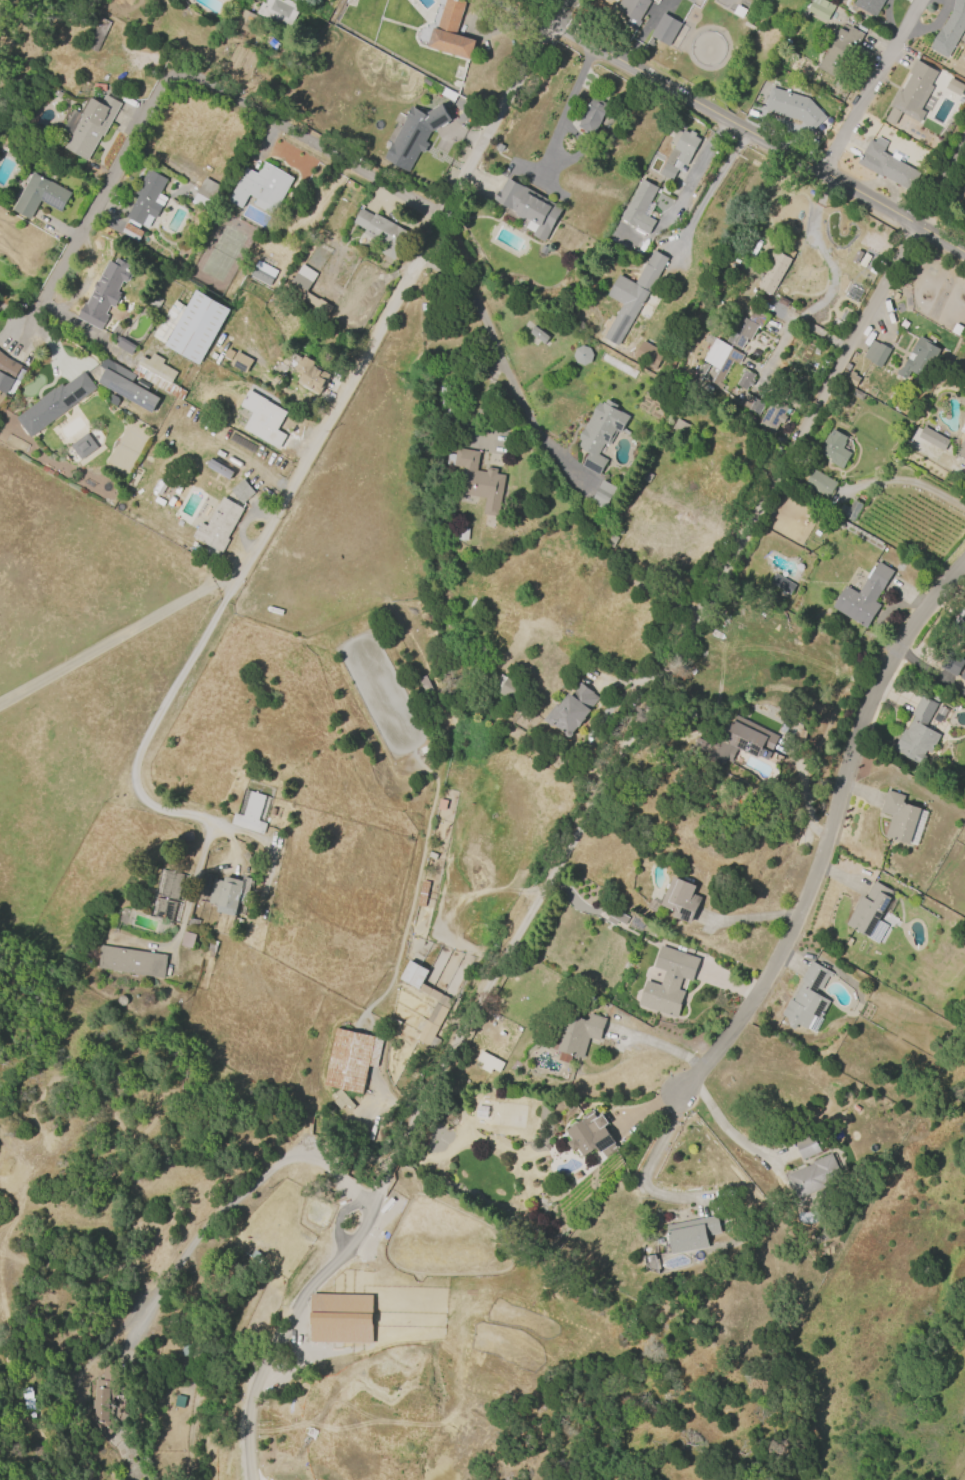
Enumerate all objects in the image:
building: (868, 6)
building: (632, 9)
building: (820, 9)
building: (278, 12)
road: (517, 13)
road: (554, 13)
building: (242, 19)
building: (665, 29)
building: (950, 29)
building: (450, 32)
building: (96, 34)
building: (839, 52)
road: (182, 79)
building: (98, 87)
building: (954, 87)
road: (871, 88)
building: (763, 91)
building: (912, 94)
building: (793, 108)
building: (592, 116)
road: (495, 120)
building: (88, 126)
building: (412, 134)
road: (755, 140)
road: (550, 145)
building: (679, 152)
building: (886, 165)
road: (695, 169)
road: (939, 181)
road: (711, 186)
building: (261, 187)
building: (665, 190)
building: (205, 193)
building: (39, 196)
building: (145, 204)
building: (529, 207)
building: (639, 207)
building: (382, 234)
building: (543, 250)
building: (856, 257)
building: (774, 269)
building: (262, 273)
building: (304, 288)
building: (104, 293)
building: (632, 296)
building: (154, 303)
building: (191, 327)
building: (538, 335)
building: (124, 348)
building: (726, 351)
building: (648, 353)
building: (876, 353)
road: (501, 355)
building: (582, 355)
building: (919, 359)
building: (240, 362)
building: (7, 373)
building: (157, 374)
building: (310, 375)
building: (848, 375)
building: (744, 379)
building: (125, 385)
building: (54, 404)
building: (751, 404)
building: (446, 406)
building: (772, 417)
building: (262, 418)
building: (682, 426)
building: (599, 434)
building: (932, 438)
building: (83, 446)
building: (834, 449)
building: (962, 449)
building: (705, 462)
building: (219, 469)
building: (478, 480)
road: (905, 481)
building: (820, 483)
building: (242, 491)
building: (602, 495)
road: (283, 497)
building: (848, 511)
building: (217, 524)
building: (462, 534)
building: (779, 585)
building: (863, 596)
building: (959, 626)
building: (950, 663)
building: (424, 684)
building: (505, 686)
building: (570, 710)
building: (917, 734)
building: (739, 742)
building: (424, 750)
road: (620, 750)
building: (250, 814)
building: (899, 817)
road: (207, 829)
road: (829, 831)
building: (248, 859)
building: (172, 885)
building: (228, 894)
building: (422, 894)
building: (681, 899)
building: (164, 910)
building: (870, 913)
building: (614, 915)
building: (192, 924)
road: (176, 937)
building: (187, 940)
building: (963, 940)
building: (130, 962)
building: (668, 981)
building: (807, 1000)
building: (434, 1019)
building: (392, 1023)
building: (578, 1035)
road: (657, 1044)
building: (350, 1059)
building: (488, 1062)
building: (341, 1101)
road: (726, 1130)
building: (590, 1136)
building: (806, 1145)
road: (649, 1165)
building: (815, 1177)
road: (224, 1201)
building: (690, 1234)
building: (650, 1264)
building: (341, 1332)
road: (262, 1369)
building: (104, 1399)

